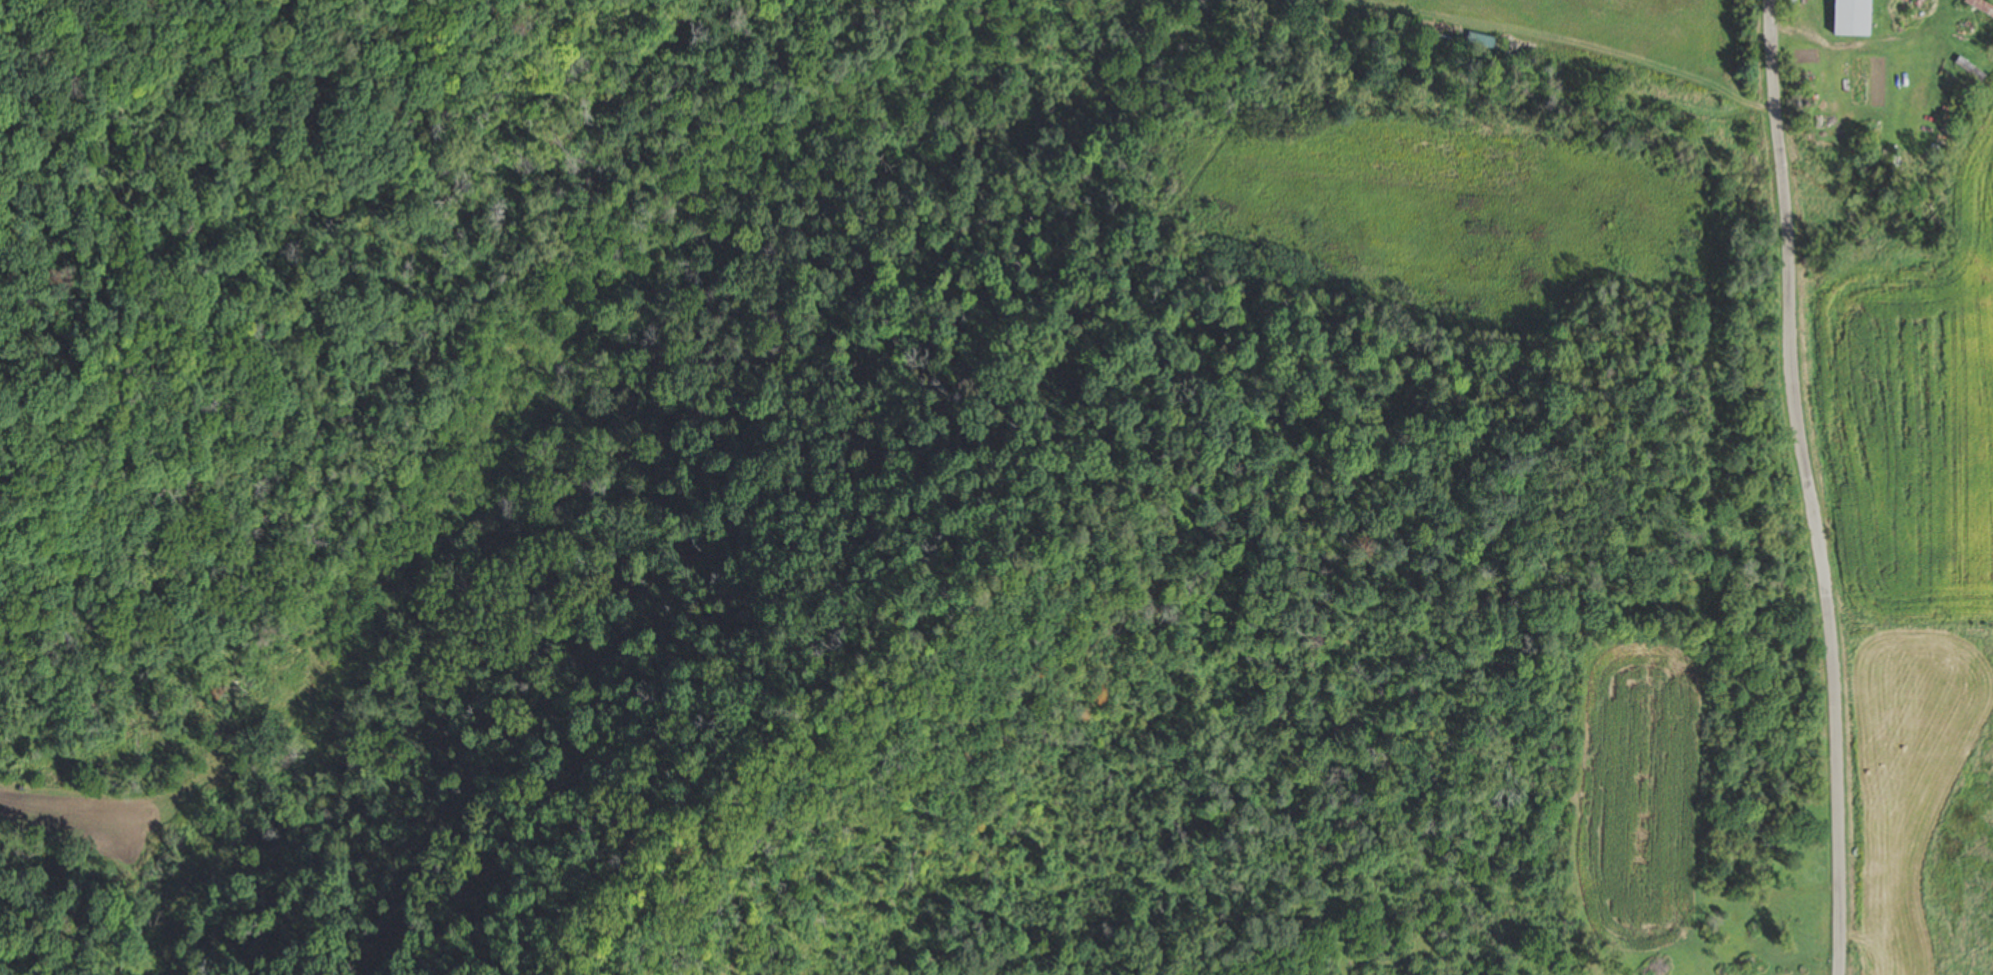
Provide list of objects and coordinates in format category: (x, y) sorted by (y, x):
building: (1978, 8)
building: (1849, 18)
building: (1482, 41)
building: (1968, 68)
road: (1807, 487)

